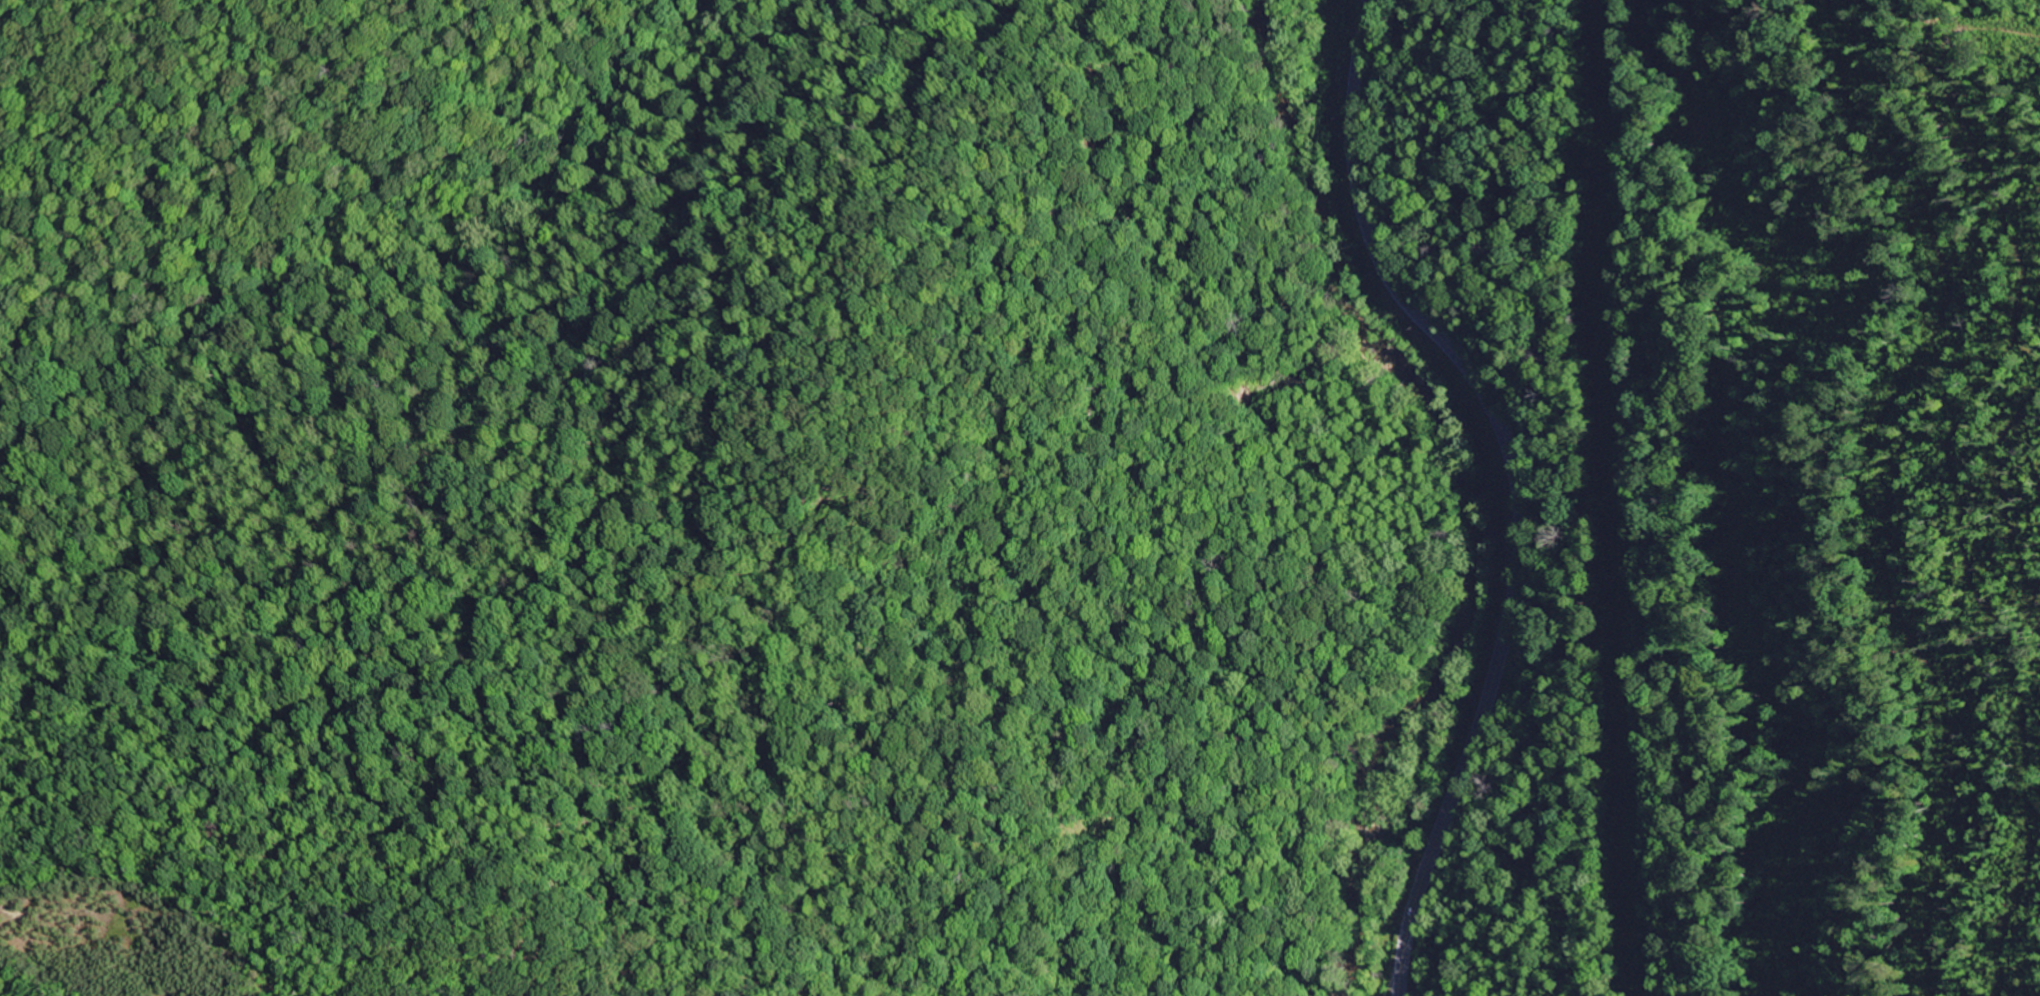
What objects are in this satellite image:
road: (1514, 483)

